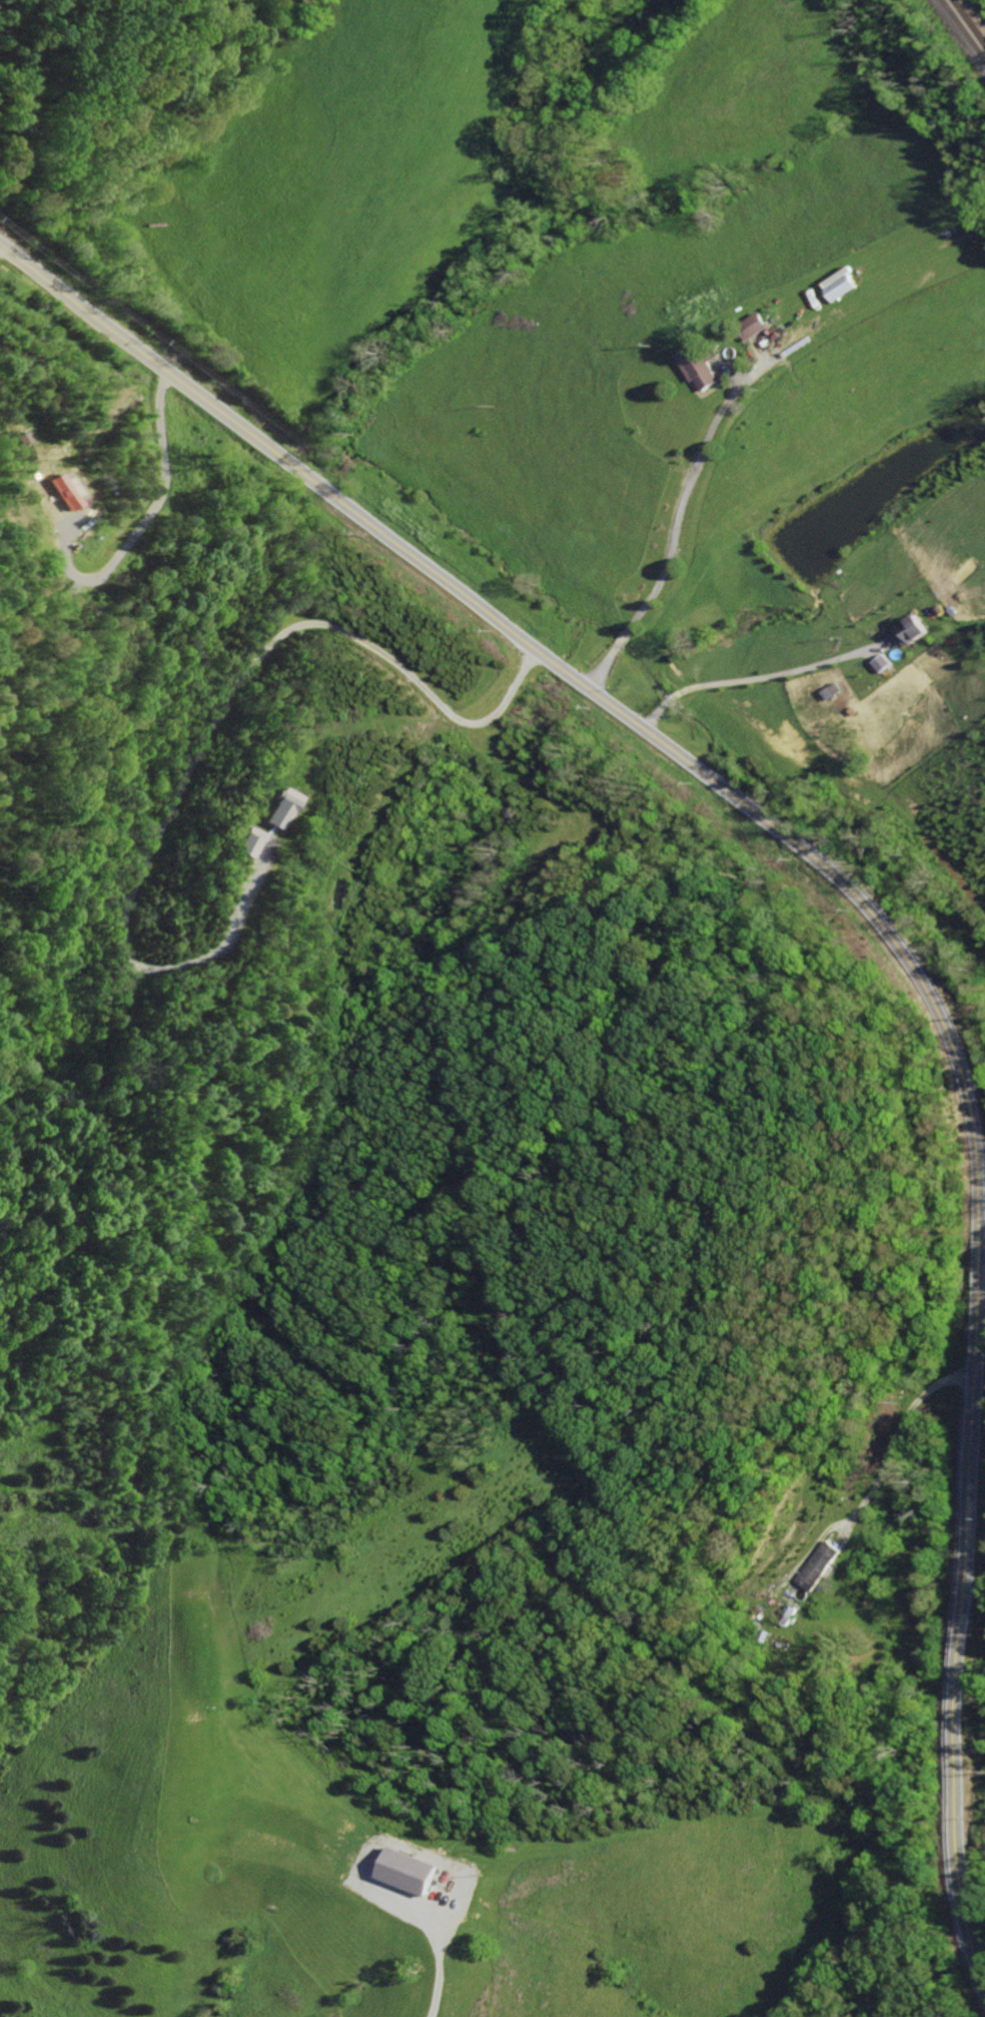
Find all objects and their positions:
railway: (972, 17)
railway: (967, 25)
road: (1, 246)
building: (847, 284)
building: (761, 325)
building: (701, 367)
road: (697, 482)
building: (914, 630)
road: (619, 641)
building: (886, 663)
road: (601, 670)
building: (835, 691)
road: (218, 719)
building: (277, 809)
building: (247, 843)
road: (870, 913)
building: (821, 1566)
building: (409, 1870)
road: (444, 1969)

